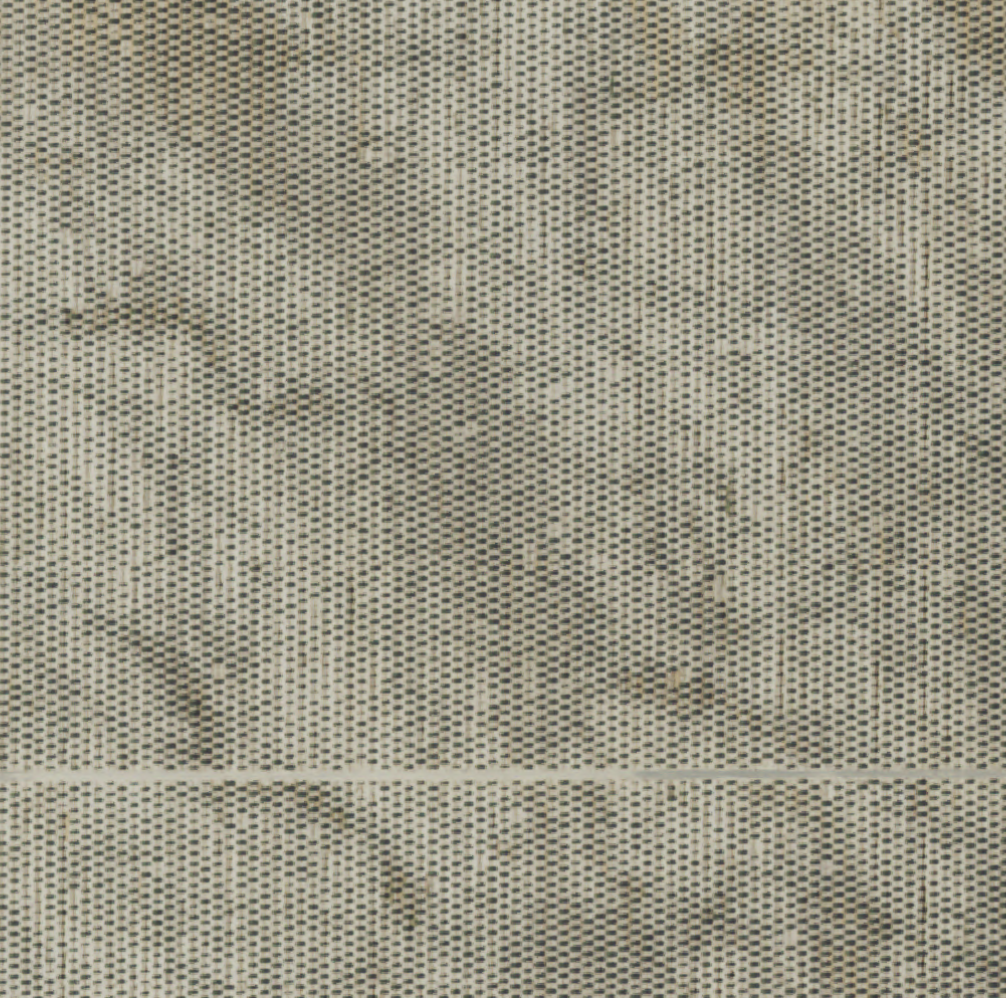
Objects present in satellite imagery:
road: (503, 779)

